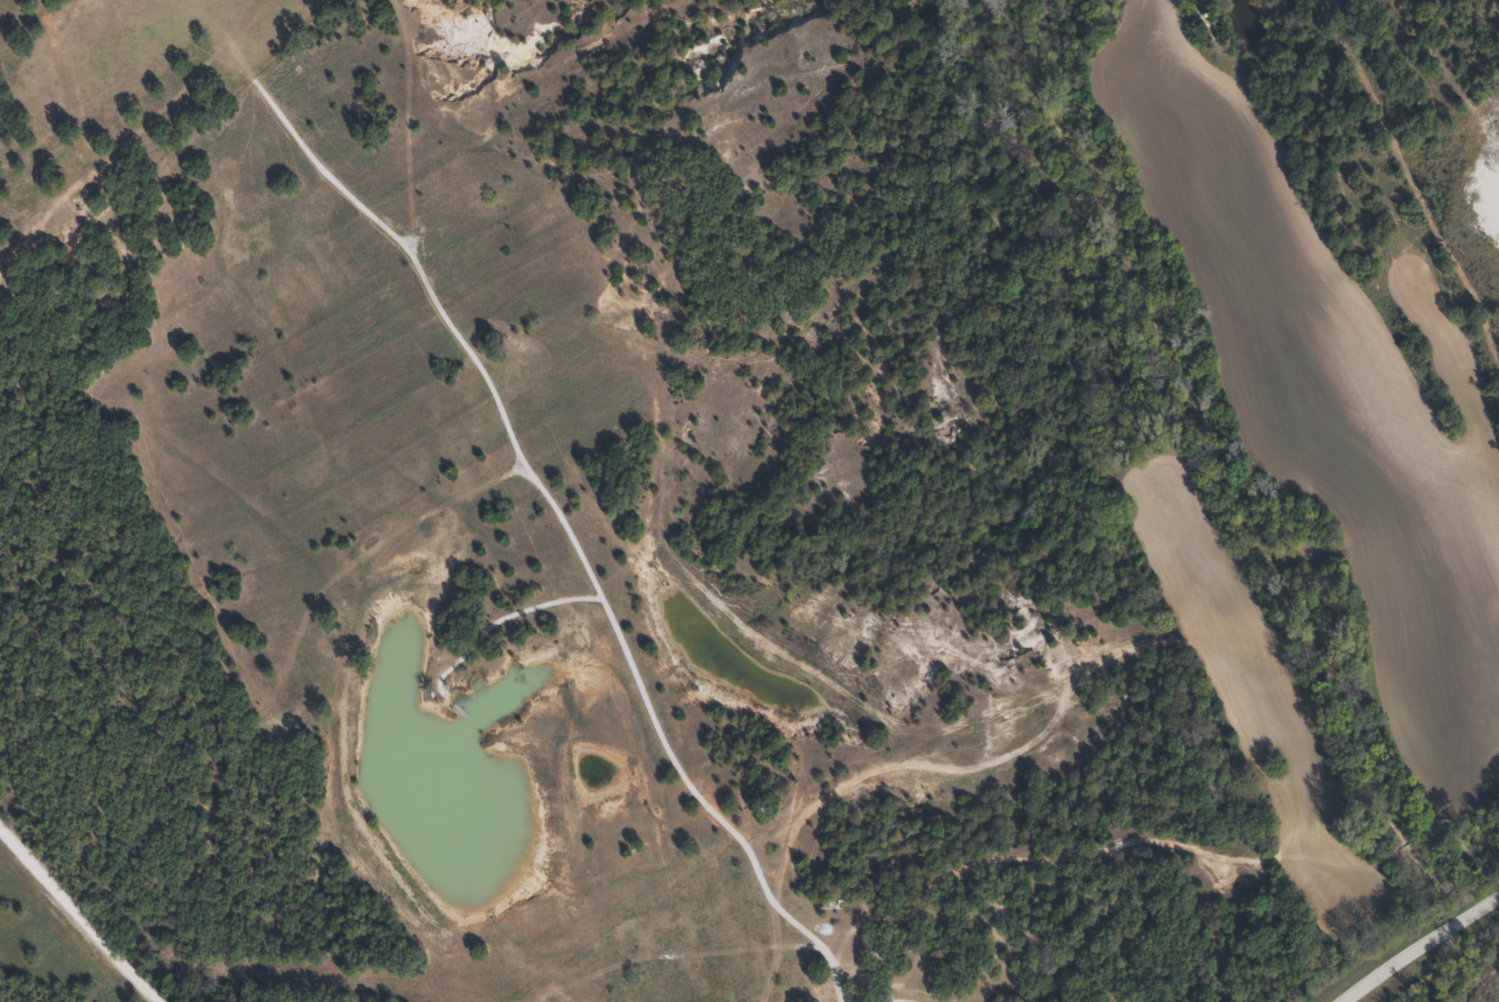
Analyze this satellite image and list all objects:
road: (83, 908)
road: (1418, 946)

